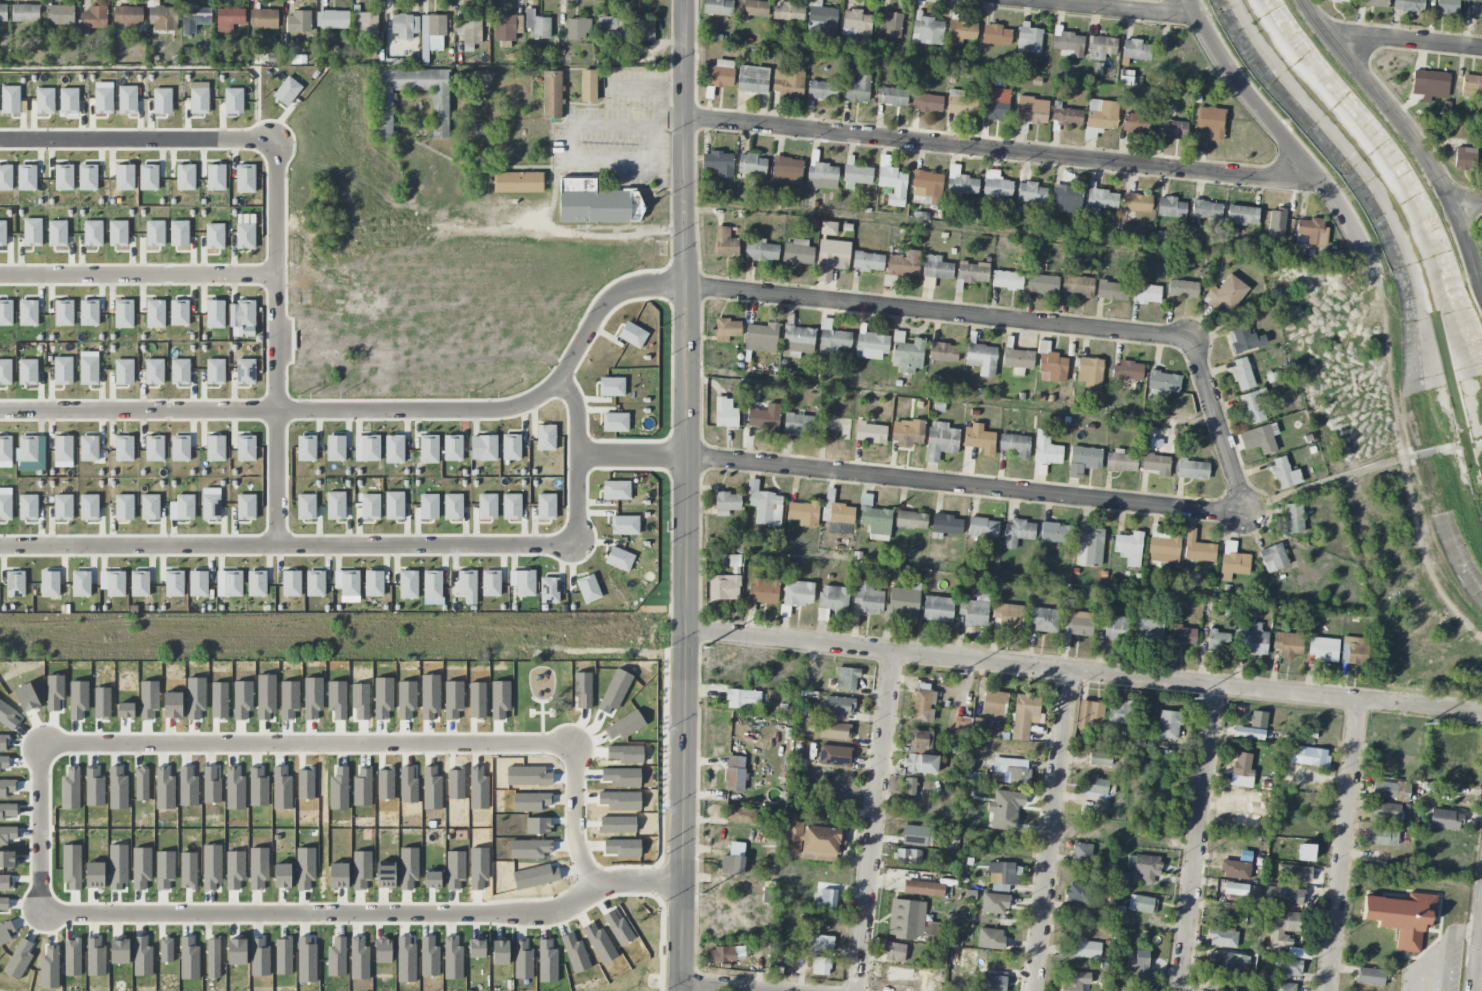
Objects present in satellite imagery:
building: (1339, 1)
building: (1373, 3)
building: (1409, 6)
building: (1447, 6)
building: (718, 7)
building: (753, 8)
building: (1476, 8)
road: (1106, 9)
building: (788, 12)
building: (3, 13)
building: (25, 13)
building: (59, 15)
building: (128, 15)
building: (161, 17)
building: (94, 18)
building: (194, 19)
building: (228, 19)
building: (263, 19)
building: (332, 19)
building: (820, 20)
building: (298, 22)
building: (364, 23)
building: (856, 24)
building: (537, 25)
building: (891, 25)
building: (404, 26)
building: (609, 26)
building: (507, 27)
building: (577, 29)
building: (641, 30)
building: (926, 30)
building: (471, 31)
building: (961, 32)
building: (432, 33)
building: (995, 35)
building: (1028, 39)
road: (1407, 39)
building: (1067, 43)
building: (1100, 47)
building: (1135, 50)
building: (721, 74)
building: (752, 79)
building: (787, 83)
building: (1472, 83)
building: (1430, 84)
building: (589, 85)
building: (822, 90)
building: (857, 90)
building: (287, 91)
building: (552, 95)
building: (892, 97)
building: (233, 101)
building: (927, 103)
building: (960, 103)
building: (996, 104)
building: (1031, 110)
building: (384, 113)
building: (1102, 114)
building: (1065, 115)
building: (1135, 123)
building: (1208, 127)
building: (1171, 128)
road: (1407, 133)
road: (138, 139)
road: (573, 140)
road: (1000, 152)
road: (1298, 154)
building: (1464, 158)
building: (1481, 162)
building: (719, 163)
building: (751, 164)
building: (787, 171)
building: (857, 175)
building: (822, 176)
building: (245, 178)
building: (519, 182)
building: (962, 184)
building: (893, 185)
building: (926, 185)
building: (996, 185)
building: (1031, 193)
building: (1066, 199)
building: (1101, 199)
building: (597, 203)
building: (1136, 203)
road: (1467, 203)
building: (1170, 207)
building: (1206, 210)
building: (1242, 215)
building: (1276, 224)
building: (828, 228)
building: (1312, 231)
building: (245, 236)
building: (725, 243)
building: (761, 250)
building: (797, 252)
building: (833, 254)
building: (867, 262)
building: (903, 264)
building: (936, 267)
building: (972, 272)
road: (138, 275)
building: (1007, 280)
building: (1042, 284)
building: (1077, 285)
building: (1182, 289)
building: (1111, 291)
building: (1146, 294)
building: (1226, 294)
road: (938, 313)
building: (245, 314)
building: (727, 330)
building: (632, 335)
building: (761, 338)
building: (1244, 338)
building: (832, 339)
road: (277, 341)
building: (797, 341)
building: (871, 346)
building: (943, 352)
building: (906, 353)
building: (982, 359)
building: (1017, 360)
building: (1050, 365)
building: (62, 371)
building: (88, 371)
building: (1127, 371)
building: (5, 372)
building: (27, 372)
building: (124, 372)
building: (154, 372)
building: (180, 372)
building: (214, 372)
building: (245, 372)
building: (1090, 374)
building: (1241, 374)
building: (1163, 382)
building: (611, 387)
building: (1253, 406)
road: (372, 410)
building: (725, 413)
building: (765, 418)
building: (615, 422)
road: (1218, 423)
building: (799, 424)
building: (870, 433)
building: (907, 433)
building: (545, 438)
building: (978, 439)
building: (1259, 439)
building: (940, 441)
building: (1015, 445)
building: (124, 448)
building: (154, 448)
building: (180, 448)
building: (215, 448)
building: (245, 448)
building: (306, 448)
building: (335, 448)
building: (370, 448)
building: (452, 448)
building: (483, 448)
building: (511, 448)
building: (5, 449)
building: (28, 449)
building: (63, 449)
building: (88, 449)
building: (394, 450)
building: (428, 450)
building: (1044, 453)
road: (632, 455)
road: (575, 459)
building: (1084, 459)
building: (1120, 462)
building: (1156, 464)
building: (1192, 469)
building: (1284, 473)
road: (967, 484)
building: (616, 490)
road: (687, 495)
building: (828, 498)
building: (726, 503)
building: (335, 506)
building: (370, 506)
building: (394, 506)
building: (5, 507)
building: (28, 507)
building: (62, 507)
building: (89, 507)
building: (124, 507)
building: (149, 507)
building: (210, 507)
building: (246, 507)
building: (306, 507)
building: (428, 507)
building: (452, 507)
building: (487, 507)
building: (511, 507)
building: (546, 507)
building: (765, 507)
building: (185, 508)
building: (803, 513)
building: (841, 514)
building: (1294, 518)
building: (874, 519)
building: (910, 520)
building: (625, 526)
building: (945, 526)
building: (982, 527)
building: (1017, 532)
building: (1055, 533)
road: (287, 544)
building: (1089, 547)
building: (1129, 548)
building: (1164, 548)
building: (1197, 548)
building: (1273, 558)
building: (619, 559)
building: (734, 564)
building: (1233, 565)
building: (256, 583)
building: (466, 583)
building: (490, 583)
building: (525, 583)
building: (15, 584)
building: (50, 584)
building: (81, 584)
building: (115, 584)
building: (139, 584)
building: (174, 584)
building: (198, 584)
building: (232, 584)
building: (291, 584)
building: (315, 584)
building: (349, 584)
building: (373, 584)
building: (432, 584)
building: (408, 585)
building: (723, 587)
building: (588, 589)
building: (549, 590)
building: (763, 591)
building: (796, 595)
building: (833, 598)
building: (867, 599)
building: (904, 601)
building: (937, 609)
building: (1246, 611)
building: (973, 613)
building: (1008, 615)
building: (1043, 620)
building: (1078, 624)
building: (1115, 627)
building: (1145, 628)
building: (1183, 636)
building: (1253, 639)
building: (1217, 640)
building: (1288, 644)
power tower: (703, 647)
building: (1323, 649)
building: (1354, 651)
road: (1084, 671)
power tower: (958, 674)
building: (846, 679)
power tower: (1192, 698)
building: (743, 700)
building: (994, 703)
building: (838, 706)
building: (923, 706)
building: (1121, 713)
building: (1089, 714)
building: (1024, 716)
building: (1258, 720)
building: (965, 723)
power tower: (1425, 724)
building: (1168, 725)
building: (835, 731)
building: (1248, 733)
building: (919, 740)
building: (959, 745)
building: (834, 756)
building: (1308, 756)
building: (1100, 758)
building: (920, 763)
building: (1010, 771)
building: (1242, 771)
building: (734, 774)
building: (909, 786)
building: (1095, 786)
building: (1390, 791)
building: (1004, 809)
building: (1385, 811)
building: (740, 816)
road: (41, 819)
building: (1445, 819)
road: (872, 822)
road: (1051, 830)
building: (917, 836)
building: (1382, 837)
road: (1197, 838)
building: (811, 841)
road: (1341, 845)
building: (1081, 853)
building: (1305, 853)
building: (908, 857)
building: (732, 865)
building: (1144, 867)
building: (1235, 870)
building: (1294, 873)
building: (1004, 876)
building: (1126, 882)
building: (923, 888)
building: (1235, 889)
building: (1253, 892)
power tower: (700, 894)
building: (1078, 894)
building: (1283, 895)
building: (828, 898)
building: (994, 903)
building: (1142, 904)
building: (1402, 917)
building: (906, 919)
building: (1283, 928)
building: (933, 932)
building: (1222, 938)
building: (990, 939)
building: (821, 943)
building: (1087, 949)
building: (894, 952)
building: (729, 954)
road: (1478, 955)
building: (1226, 961)
building: (821, 966)
building: (1286, 967)
building: (1137, 976)
building: (1370, 977)
building: (1075, 981)
building: (990, 983)
building: (1216, 983)
building: (1283, 986)
road: (714, 987)

